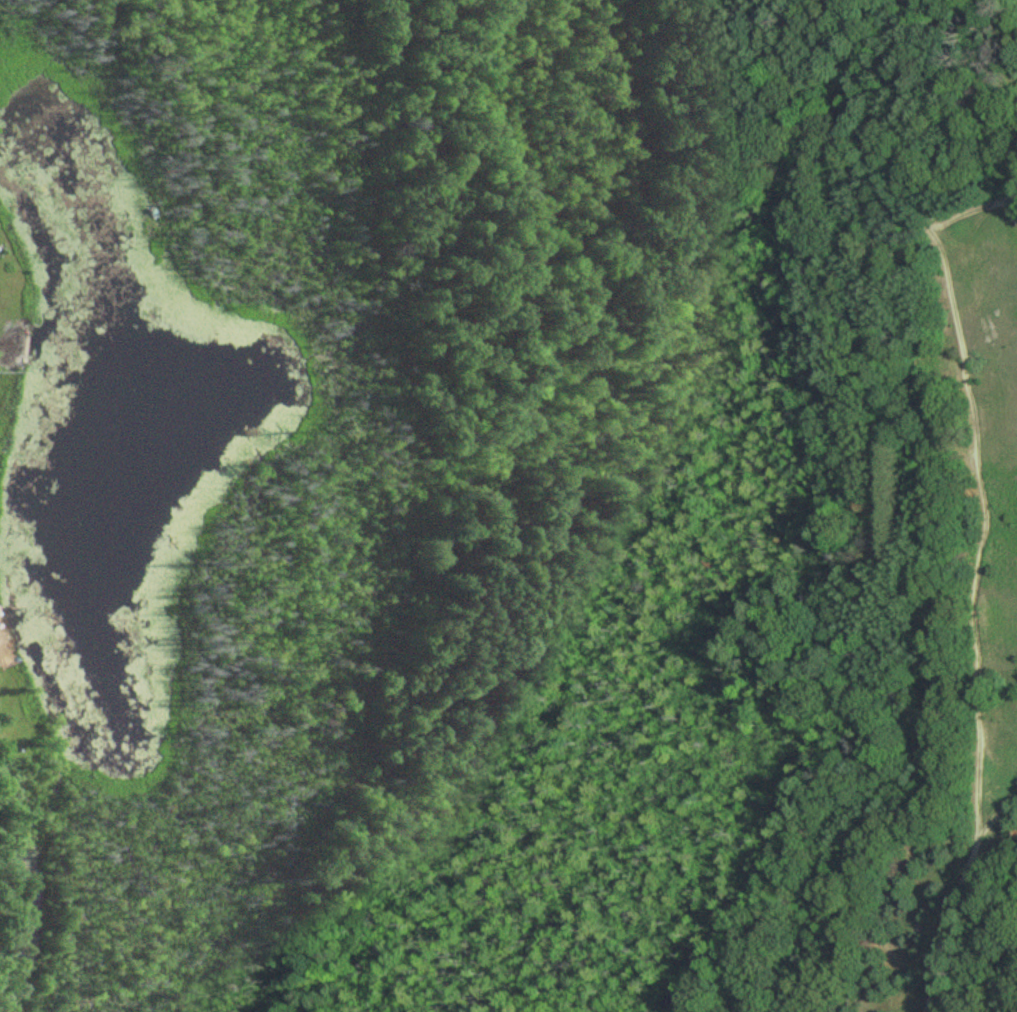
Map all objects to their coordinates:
road: (969, 208)
building: (17, 364)
road: (978, 501)

